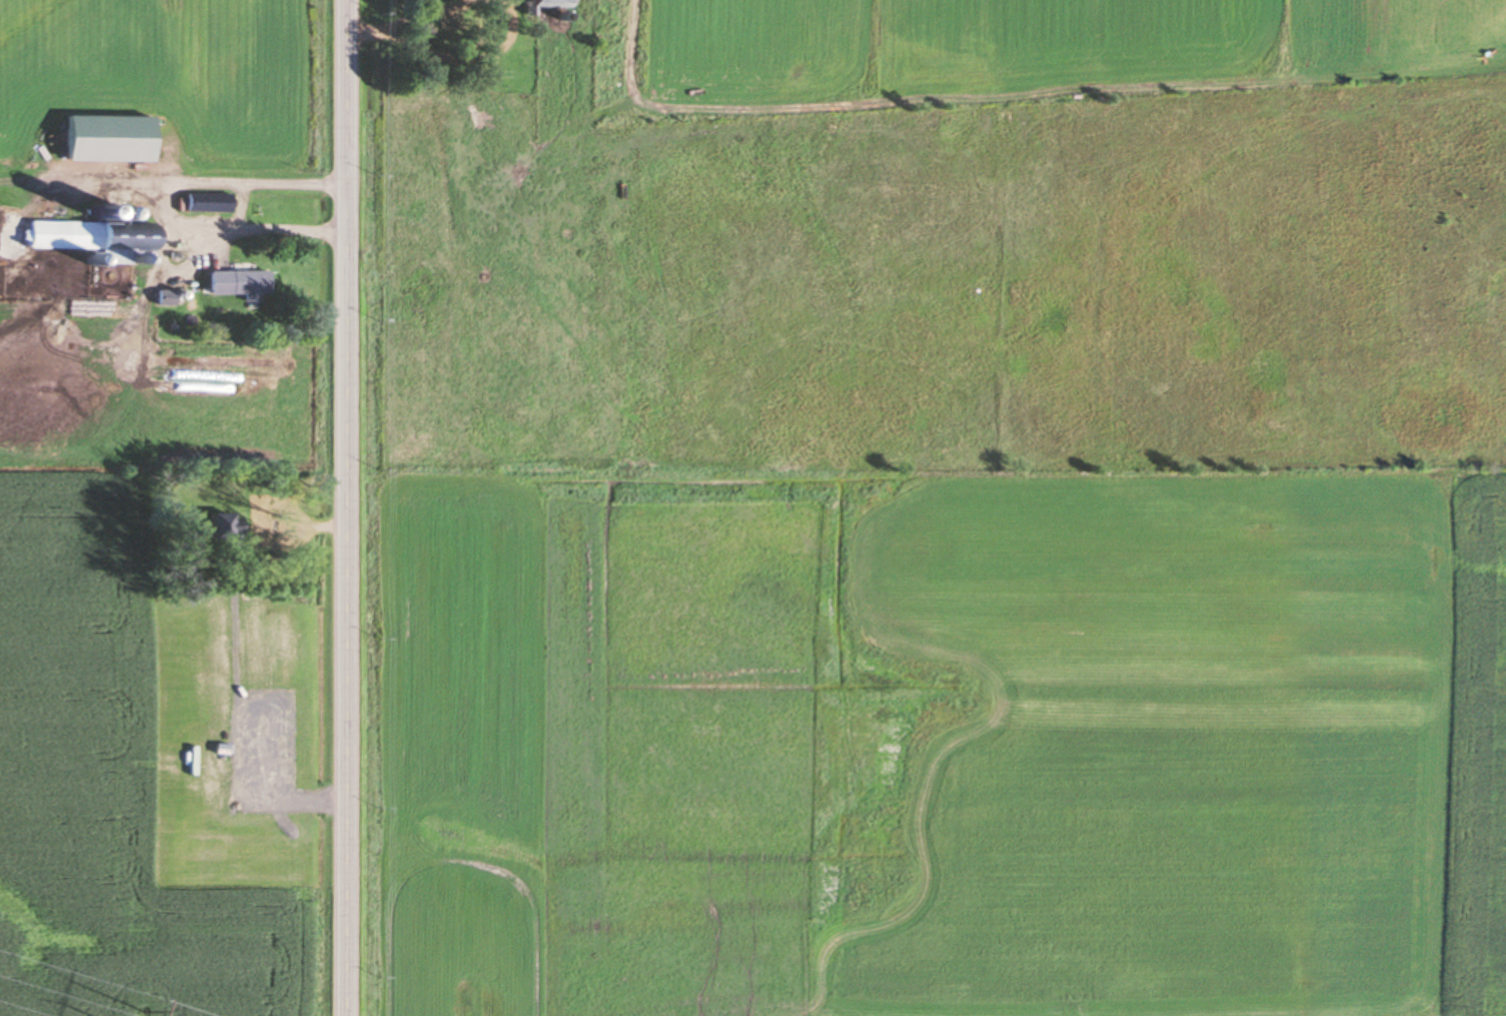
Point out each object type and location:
building: (547, 3)
building: (106, 137)
building: (208, 201)
building: (90, 234)
building: (238, 282)
road: (349, 508)

